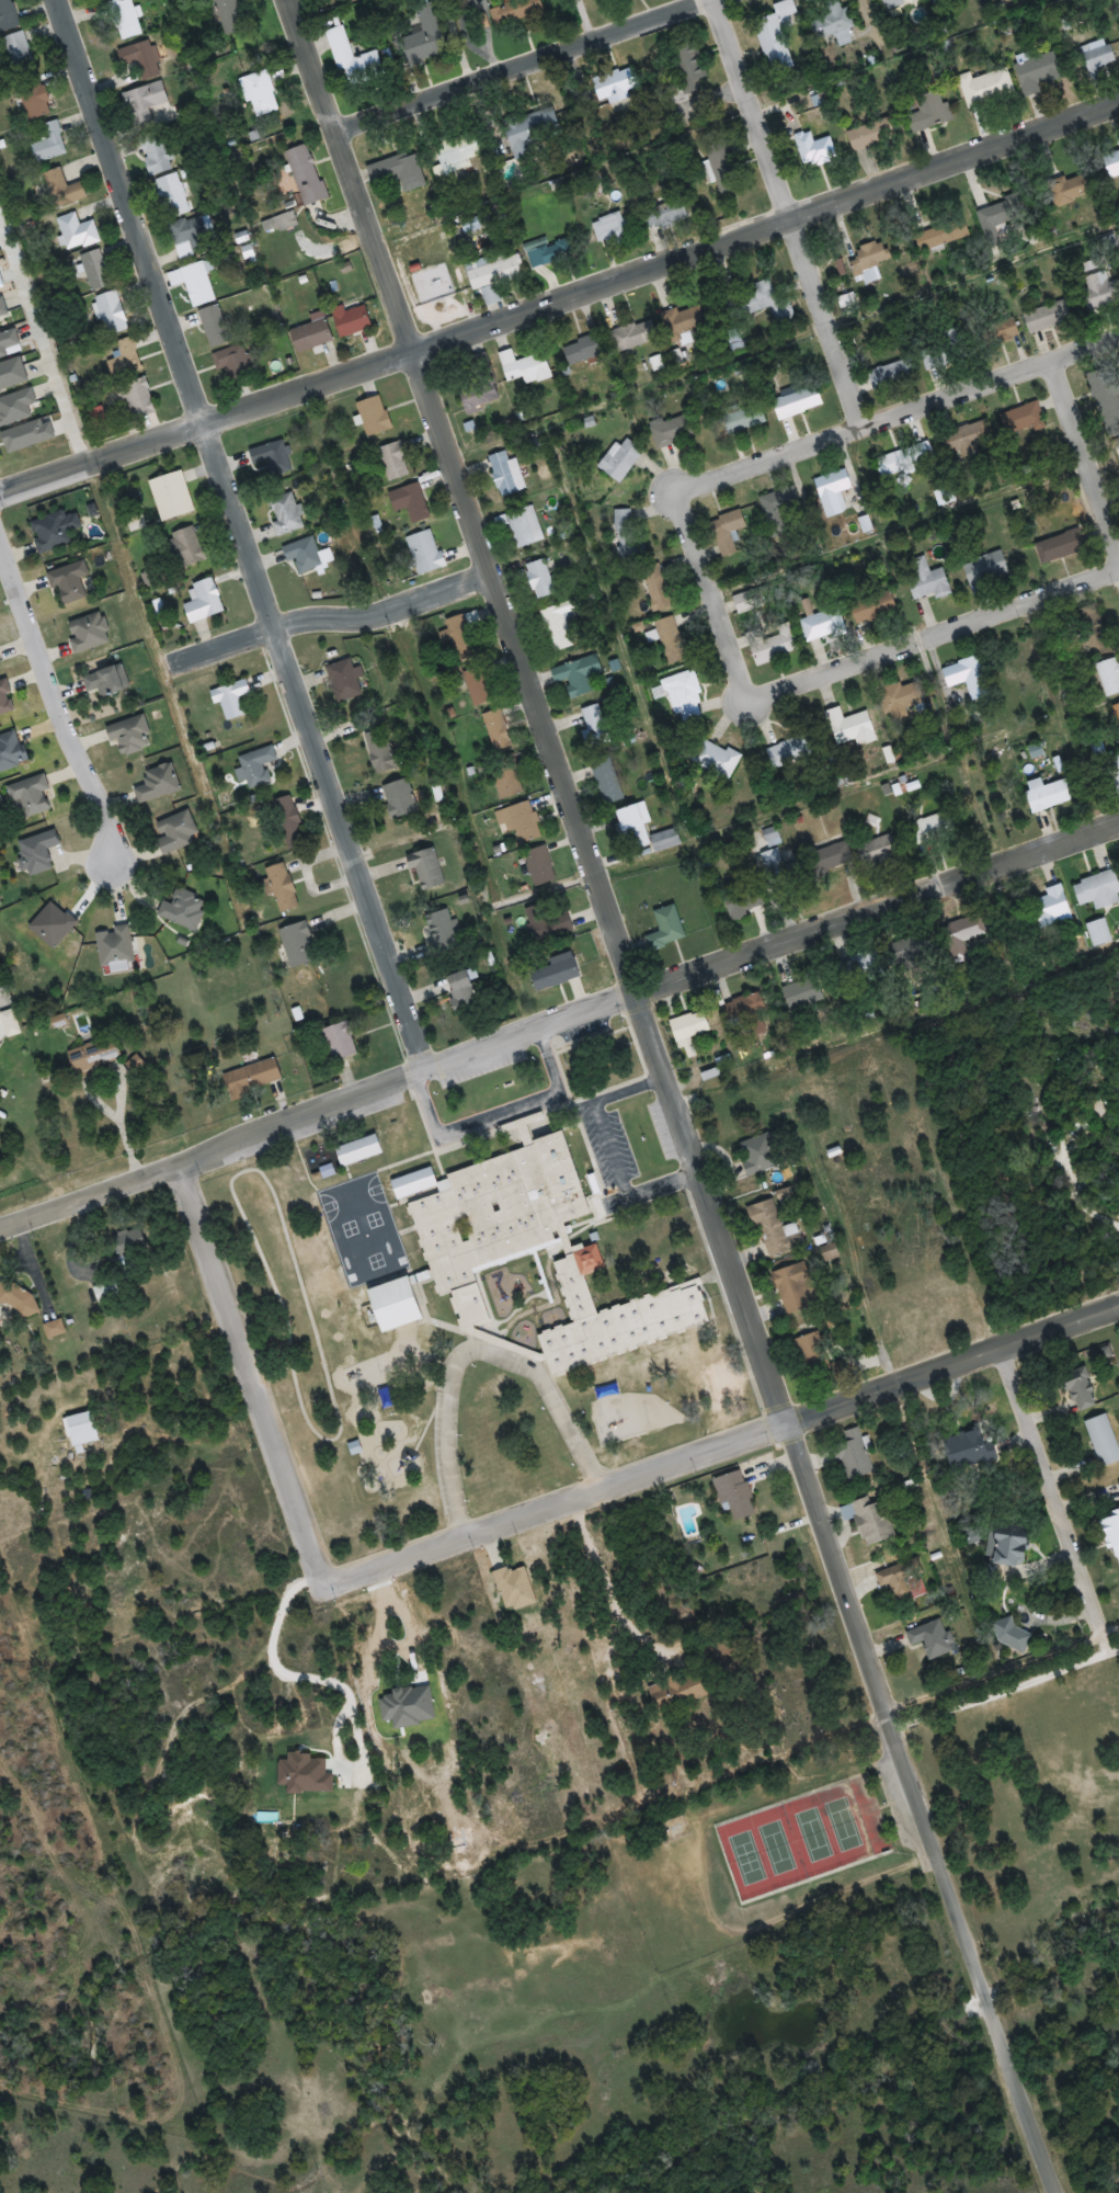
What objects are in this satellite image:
building: (894, 2)
building: (514, 11)
building: (8, 15)
building: (231, 15)
building: (126, 19)
building: (833, 26)
building: (776, 36)
building: (423, 37)
building: (19, 53)
building: (140, 59)
road: (316, 60)
road: (524, 60)
building: (353, 61)
building: (1097, 61)
building: (692, 67)
building: (1038, 72)
building: (617, 84)
building: (986, 88)
building: (260, 94)
building: (37, 102)
building: (144, 103)
building: (927, 112)
building: (529, 132)
building: (871, 135)
building: (49, 143)
building: (157, 156)
building: (818, 156)
building: (456, 159)
building: (1111, 164)
building: (723, 169)
building: (398, 171)
building: (306, 174)
building: (61, 189)
building: (1071, 190)
building: (172, 196)
building: (1003, 212)
road: (785, 214)
building: (665, 215)
building: (278, 221)
building: (610, 228)
building: (77, 232)
building: (947, 232)
building: (192, 236)
building: (548, 251)
building: (867, 261)
building: (838, 268)
building: (95, 270)
building: (494, 275)
building: (195, 282)
building: (1099, 291)
road: (560, 297)
building: (847, 300)
building: (758, 303)
building: (112, 313)
building: (1047, 316)
building: (352, 320)
building: (684, 320)
building: (215, 327)
building: (1004, 329)
road: (785, 332)
building: (311, 334)
building: (632, 336)
building: (277, 343)
building: (737, 343)
building: (584, 350)
building: (944, 353)
building: (125, 359)
building: (235, 361)
building: (525, 367)
building: (892, 374)
building: (479, 394)
building: (1105, 394)
building: (138, 399)
building: (798, 401)
road: (900, 413)
building: (96, 416)
building: (374, 416)
building: (744, 418)
building: (1023, 420)
building: (672, 431)
building: (969, 438)
road: (1087, 446)
building: (1116, 451)
building: (273, 457)
building: (903, 458)
building: (395, 459)
building: (621, 459)
building: (509, 477)
building: (833, 491)
building: (171, 496)
building: (945, 496)
building: (411, 502)
building: (781, 510)
building: (286, 514)
road: (902, 521)
building: (523, 527)
building: (55, 531)
building: (728, 531)
road: (247, 532)
building: (627, 534)
building: (187, 546)
building: (1060, 546)
building: (425, 552)
building: (304, 555)
building: (984, 571)
building: (539, 579)
building: (927, 580)
building: (70, 583)
building: (658, 589)
road: (715, 590)
building: (204, 601)
building: (873, 606)
road: (336, 614)
building: (818, 621)
building: (559, 625)
road: (935, 630)
building: (1092, 630)
building: (90, 632)
building: (459, 635)
building: (775, 643)
building: (674, 648)
building: (0, 659)
building: (579, 674)
building: (969, 677)
building: (1109, 677)
building: (106, 681)
building: (344, 681)
building: (479, 688)
road: (56, 691)
building: (902, 695)
building: (685, 696)
building: (5, 698)
building: (231, 698)
road: (1069, 711)
building: (1117, 712)
building: (594, 725)
building: (849, 728)
building: (498, 731)
building: (130, 735)
building: (11, 751)
building: (790, 751)
building: (1035, 751)
building: (382, 752)
building: (719, 760)
building: (256, 766)
road: (562, 770)
building: (1115, 771)
building: (607, 782)
building: (158, 784)
building: (507, 784)
building: (31, 795)
building: (1048, 795)
road: (688, 797)
building: (400, 799)
building: (525, 822)
building: (289, 823)
building: (936, 827)
building: (643, 830)
building: (178, 832)
building: (878, 851)
building: (37, 853)
building: (833, 856)
building: (540, 866)
building: (427, 870)
building: (783, 872)
building: (282, 888)
building: (1098, 890)
building: (744, 902)
building: (1050, 907)
building: (184, 910)
building: (548, 921)
building: (666, 928)
building: (964, 930)
building: (443, 932)
building: (1099, 932)
building: (298, 945)
building: (116, 950)
building: (914, 951)
building: (861, 967)
building: (556, 970)
building: (464, 992)
building: (806, 995)
building: (744, 1008)
road: (558, 1019)
building: (10, 1023)
building: (689, 1027)
building: (339, 1042)
building: (95, 1055)
building: (252, 1078)
building: (1117, 1092)
building: (1098, 1109)
building: (1082, 1126)
building: (364, 1140)
building: (757, 1154)
building: (775, 1230)
building: (128, 1241)
building: (526, 1243)
building: (795, 1287)
building: (106, 1289)
building: (20, 1297)
building: (55, 1328)
building: (812, 1351)
road: (955, 1356)
road: (254, 1370)
building: (1081, 1390)
building: (385, 1397)
building: (81, 1429)
building: (1103, 1440)
building: (970, 1448)
building: (854, 1455)
building: (739, 1484)
road: (1051, 1493)
road: (559, 1499)
building: (873, 1521)
road: (950, 1531)
building: (1112, 1533)
building: (1008, 1544)
building: (899, 1578)
road: (610, 1588)
building: (1013, 1635)
building: (932, 1638)
road: (1112, 1645)
building: (681, 1681)
road: (998, 1684)
road: (921, 1807)
park: (766, 1849)

